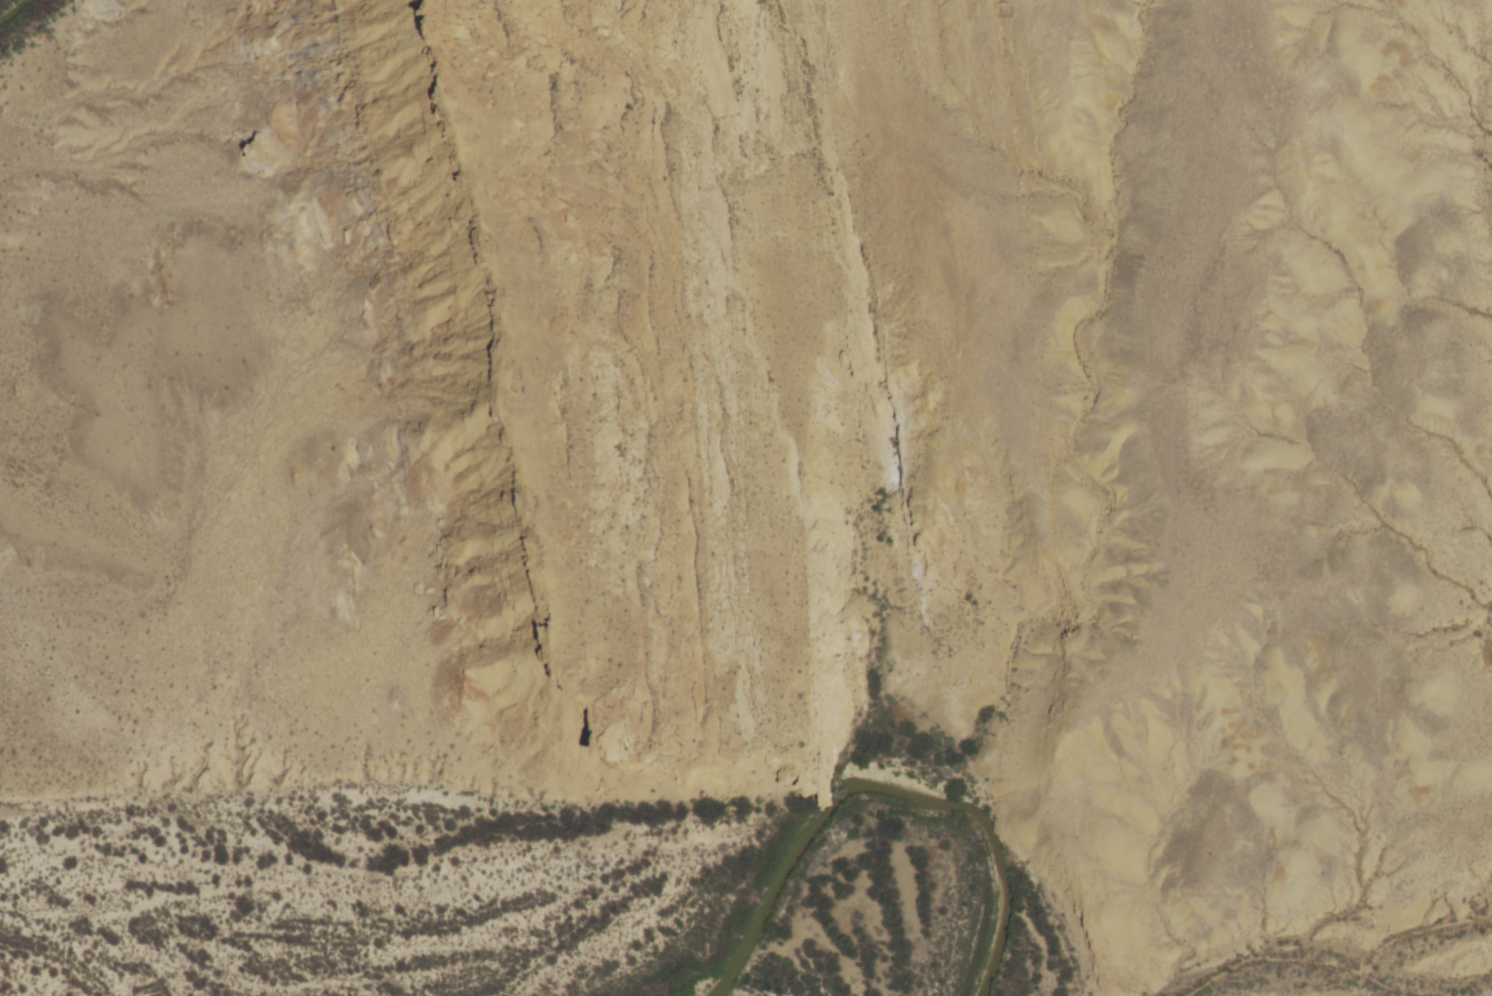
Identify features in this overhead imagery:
river: (18, 12)
river: (878, 777)

